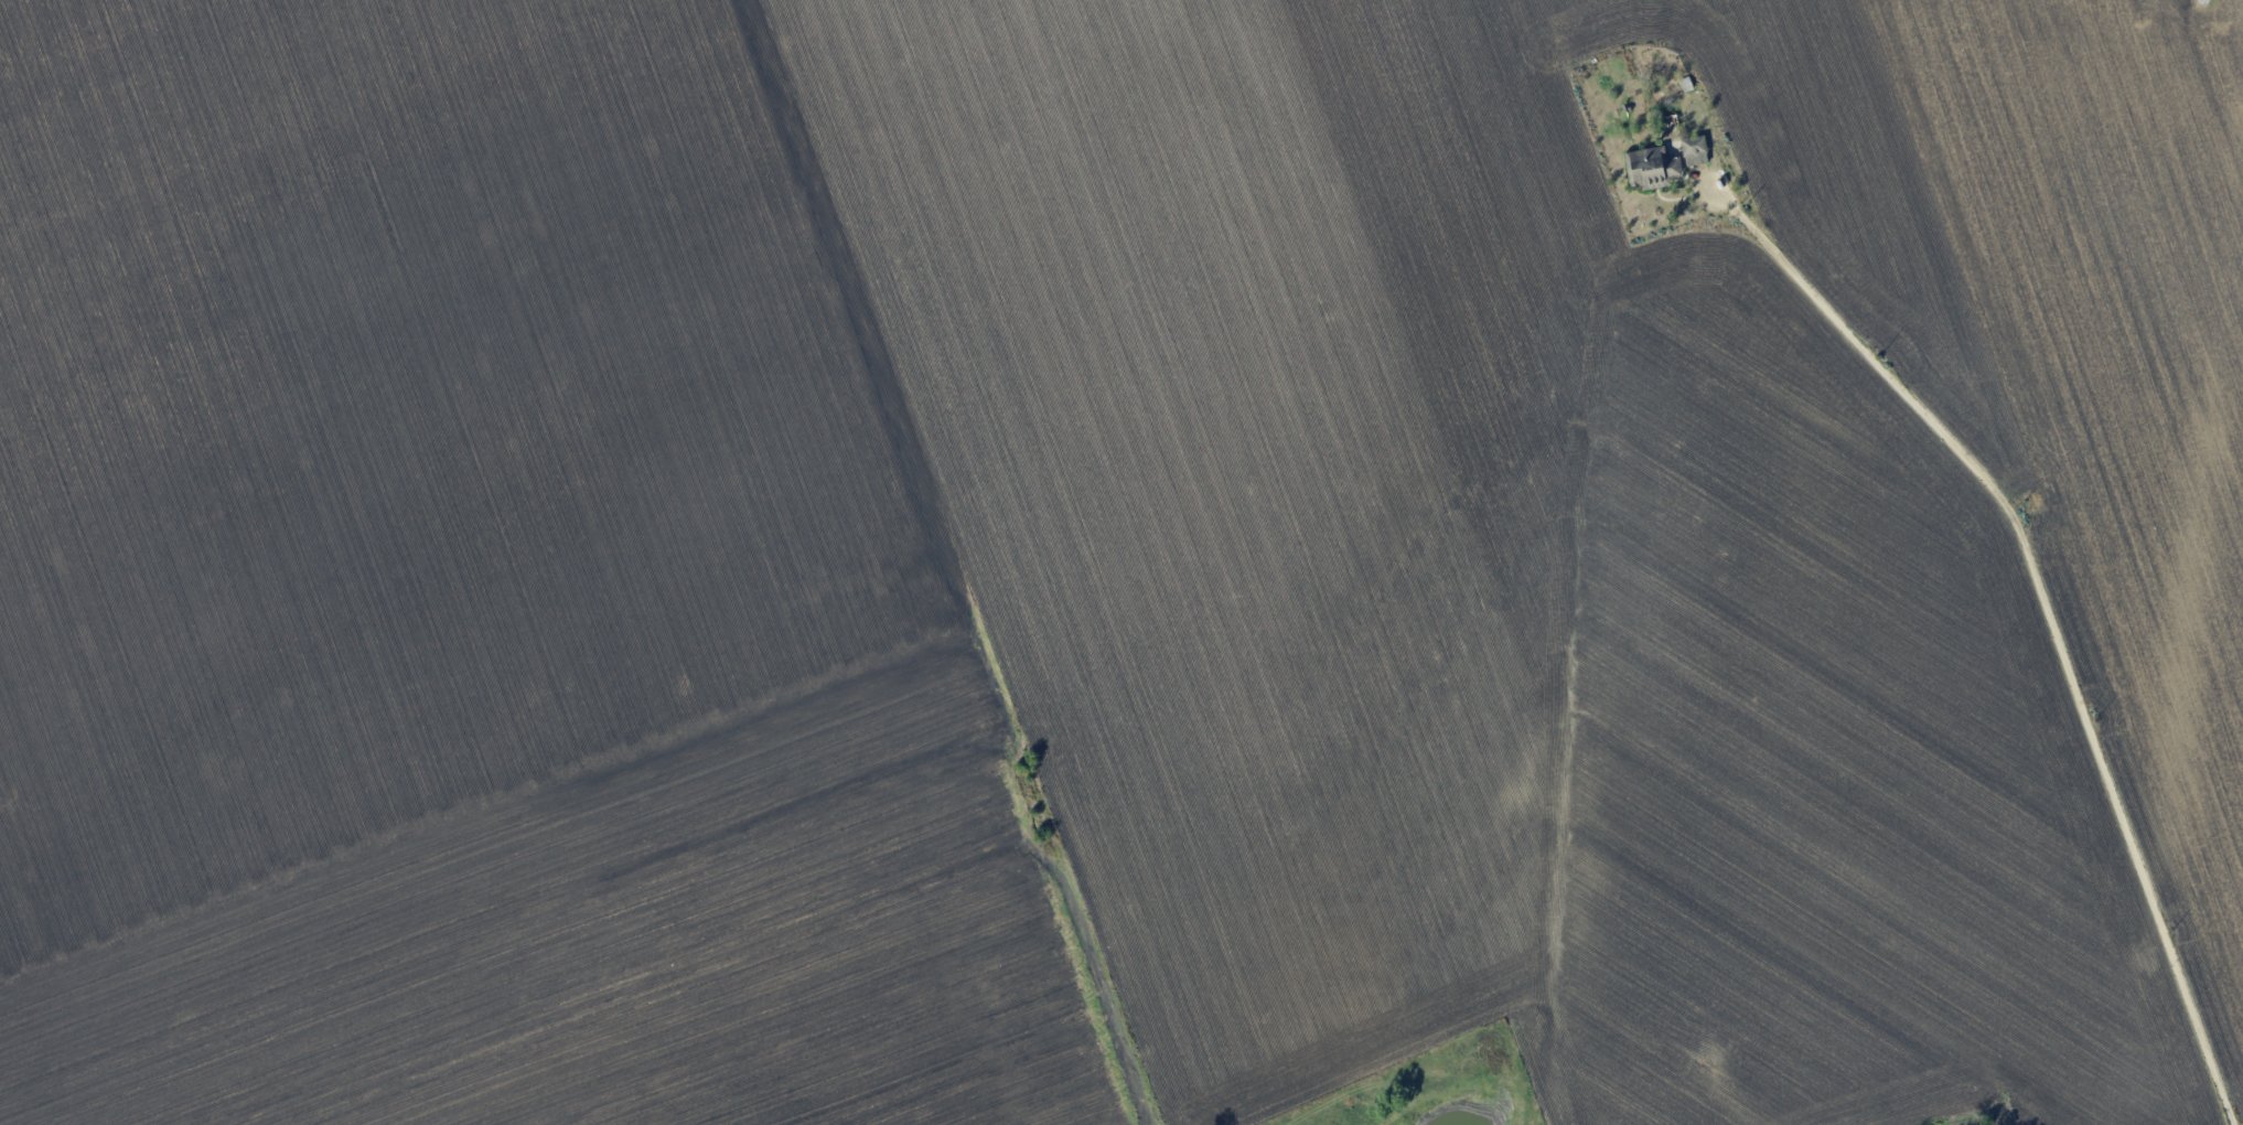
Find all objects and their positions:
building: (1652, 167)
road: (2053, 620)

